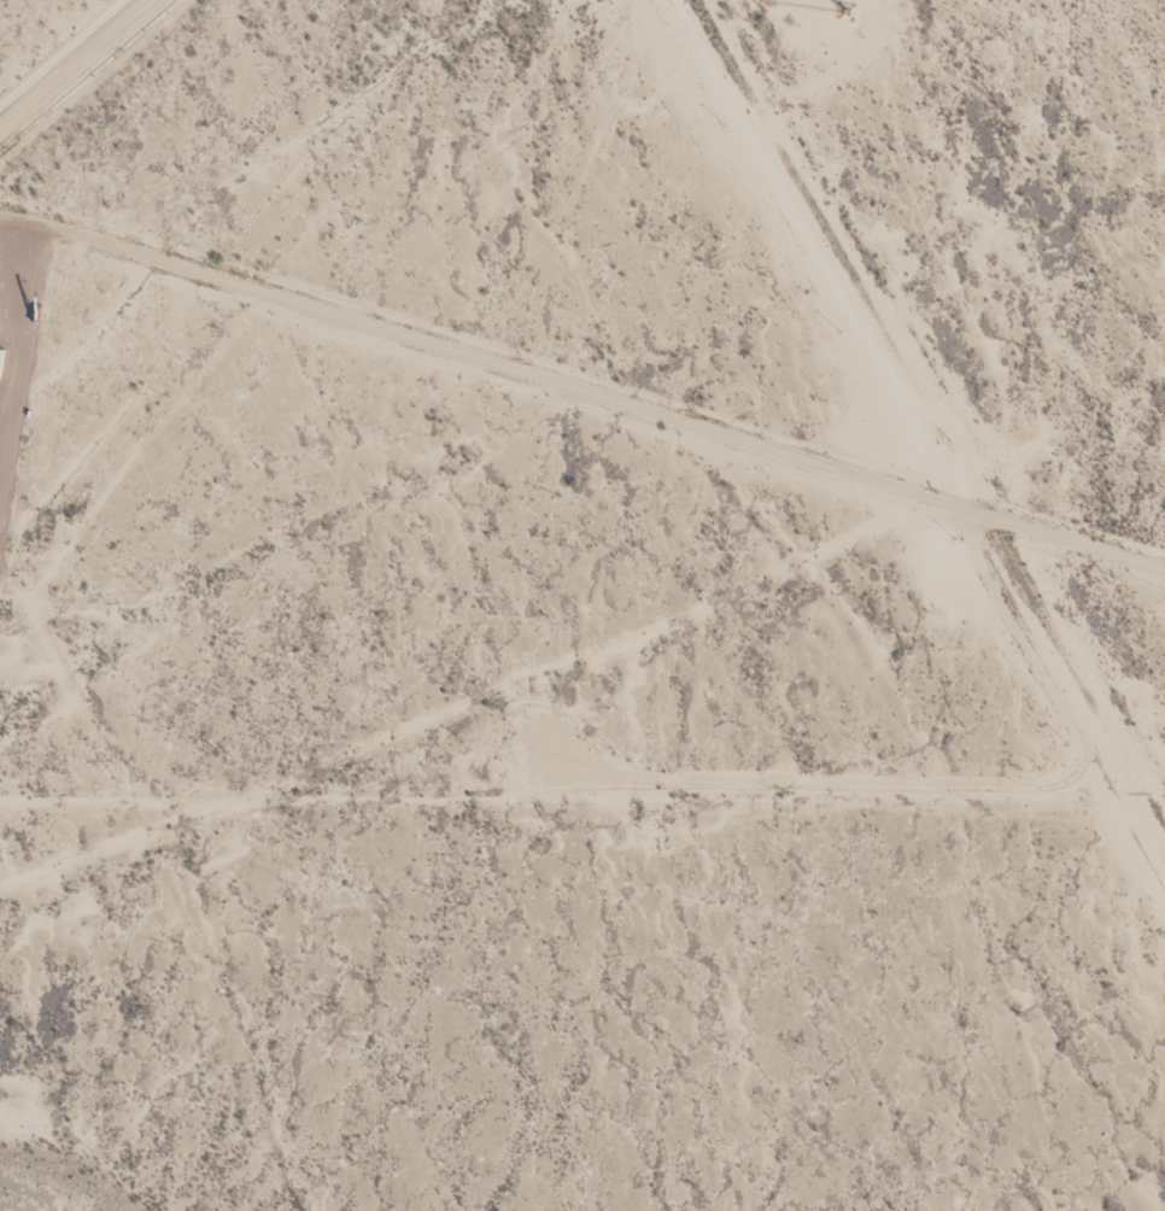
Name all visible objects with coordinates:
road: (70, 60)
road: (582, 396)
road: (927, 399)

